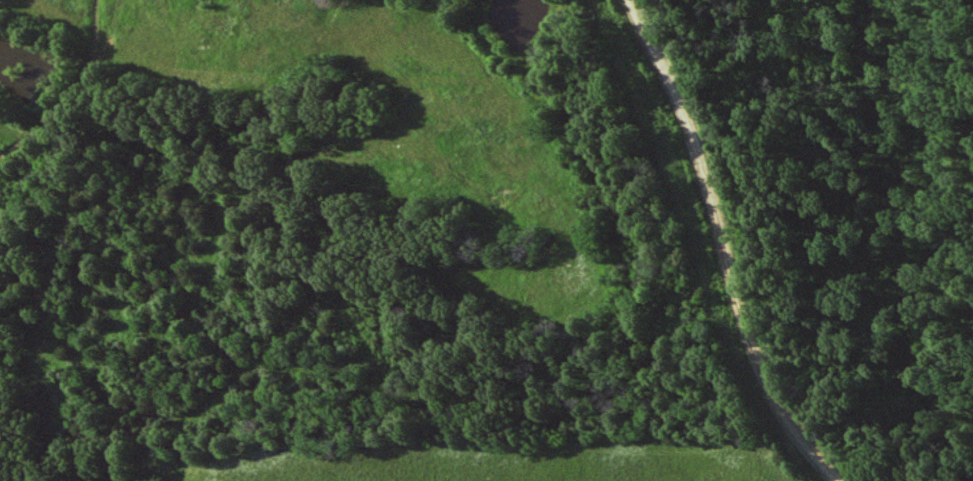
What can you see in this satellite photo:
road: (724, 246)

